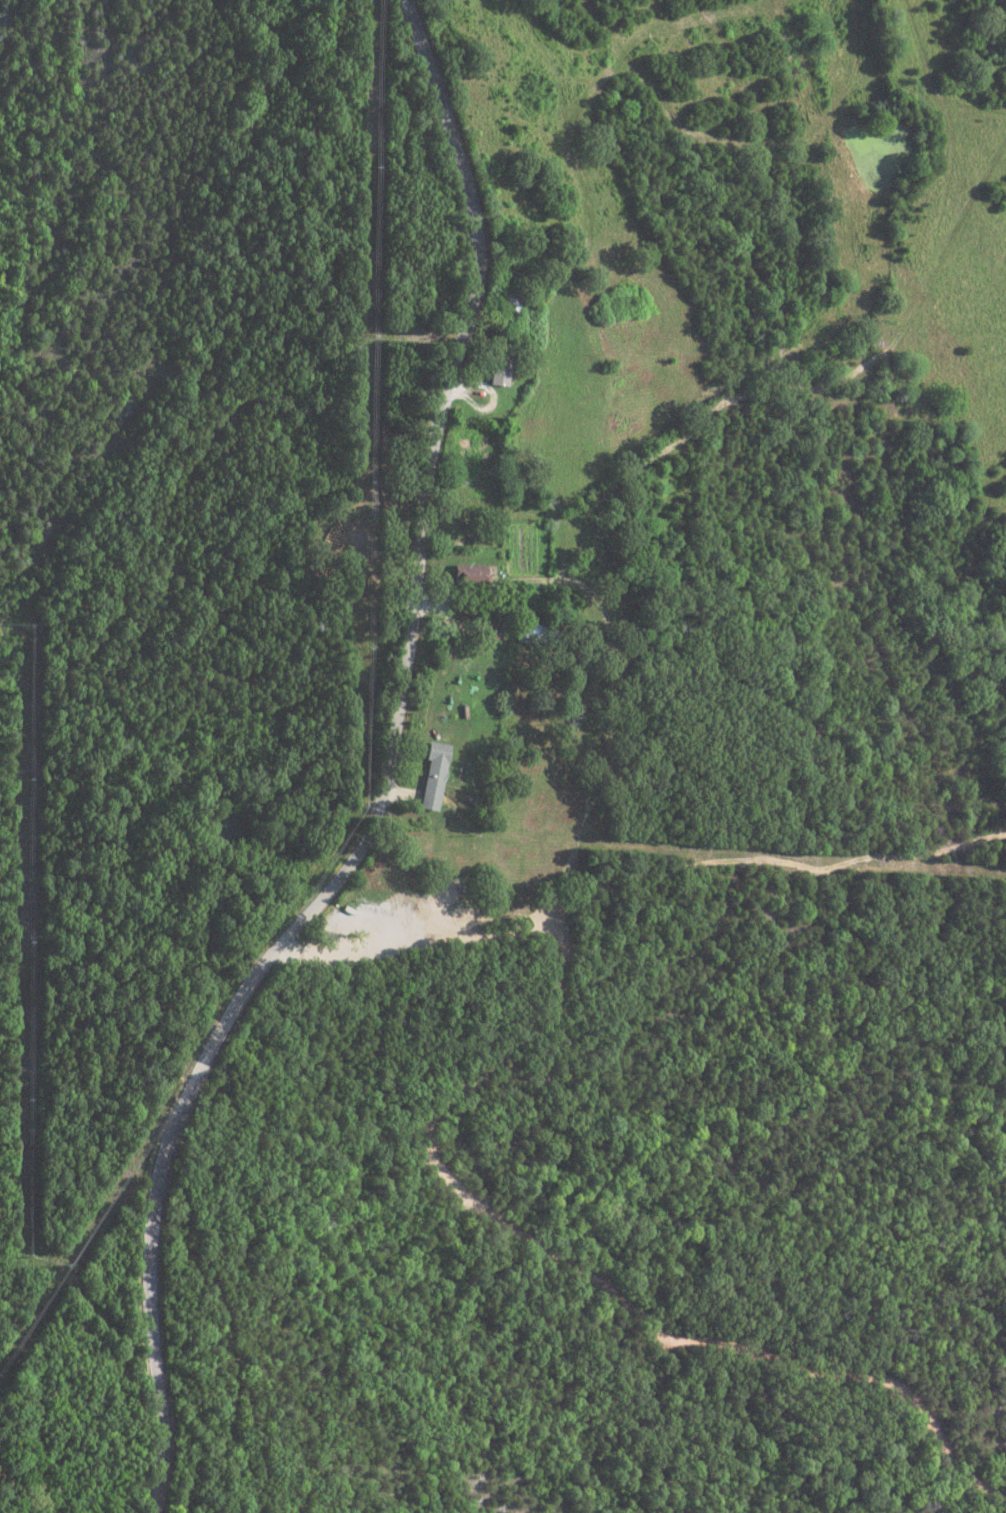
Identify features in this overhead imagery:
building: (498, 374)
building: (468, 573)
building: (434, 775)
road: (385, 781)

